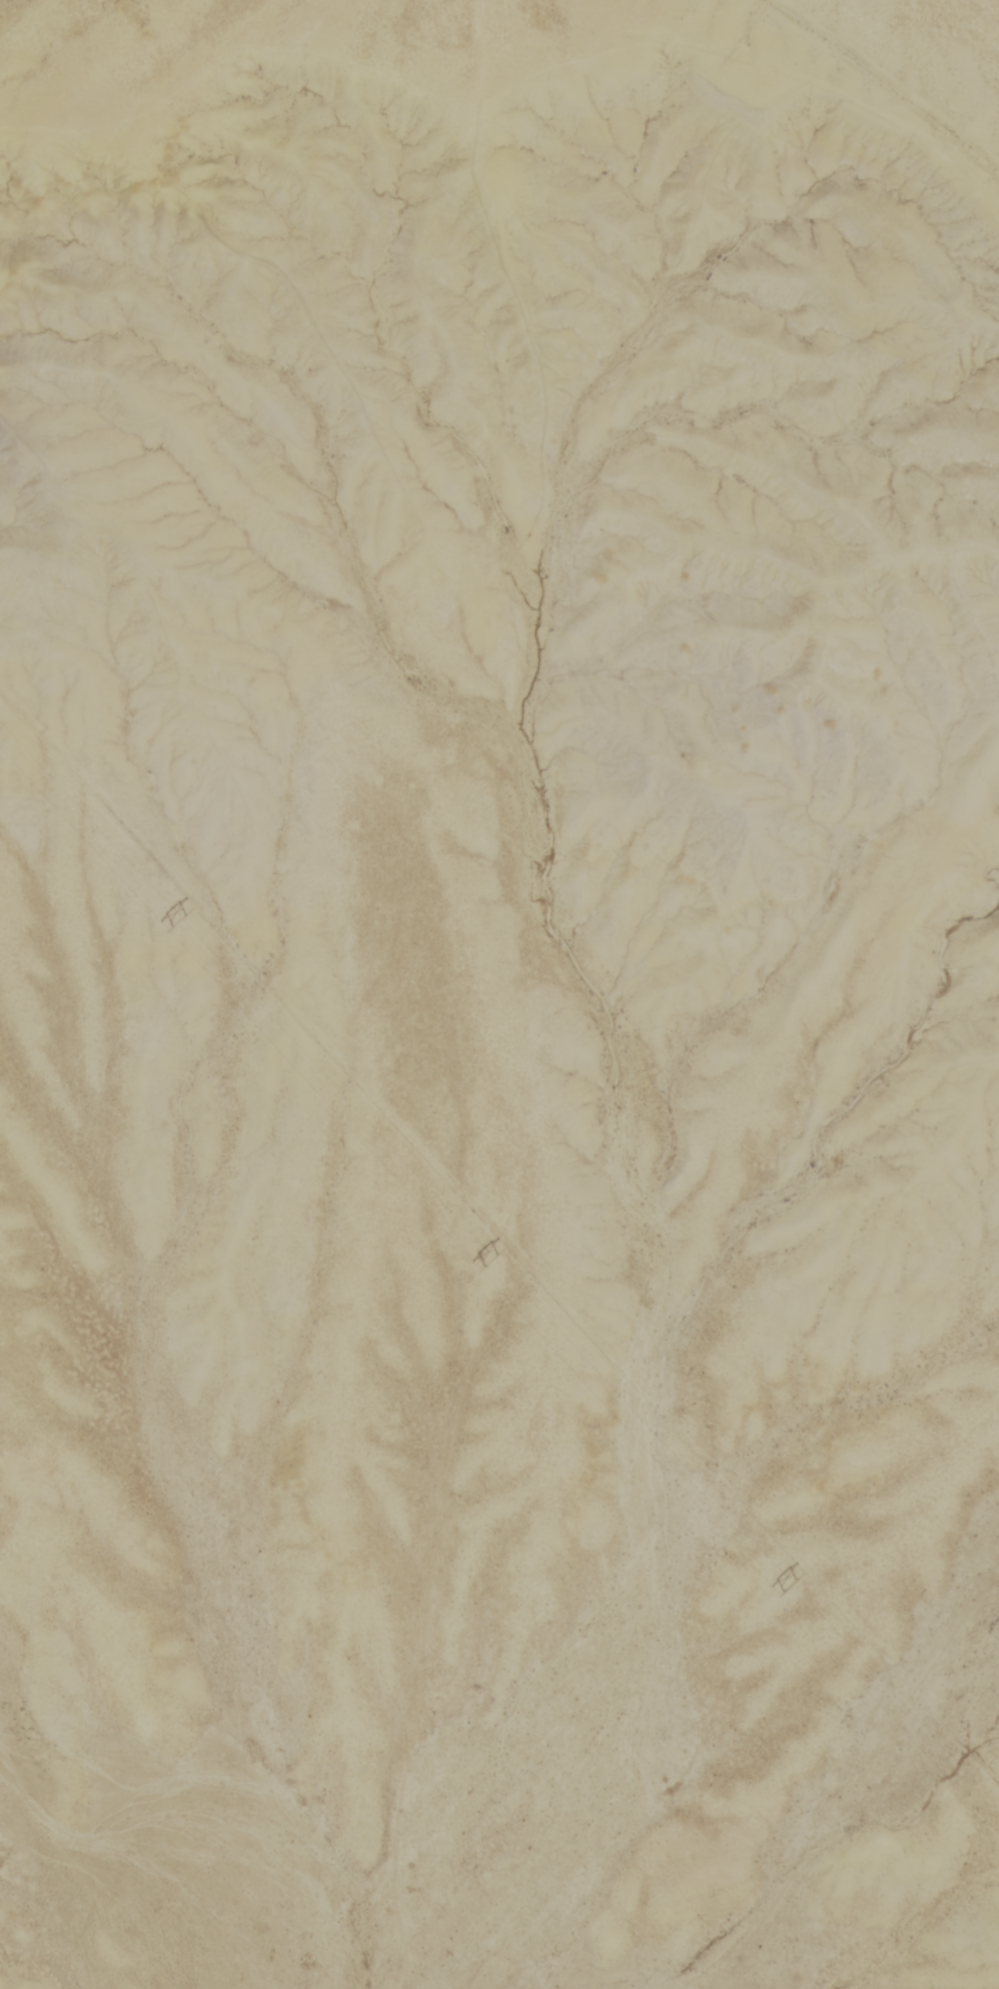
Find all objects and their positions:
road: (889, 78)
power tower: (189, 919)
power tower: (502, 1254)
power tower: (806, 1584)

